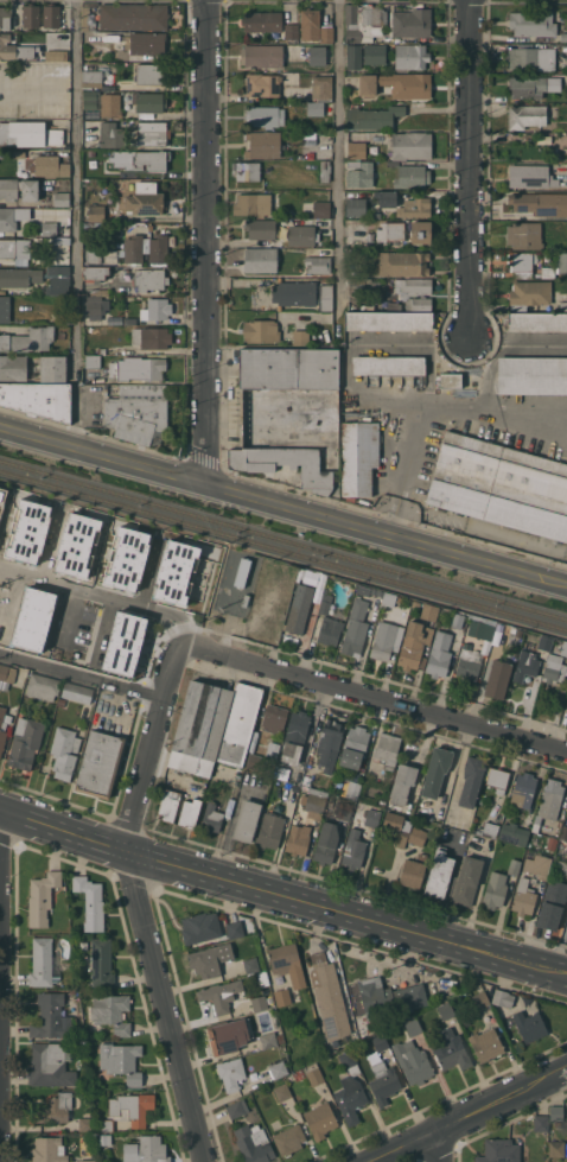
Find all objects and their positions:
building: (31, 15)
building: (51, 15)
building: (133, 15)
building: (5, 17)
building: (566, 19)
building: (363, 20)
building: (262, 21)
building: (412, 23)
building: (533, 23)
building: (310, 24)
building: (291, 31)
building: (326, 33)
building: (563, 37)
building: (147, 43)
building: (13, 47)
building: (374, 53)
building: (55, 55)
building: (261, 55)
building: (317, 55)
building: (353, 56)
building: (410, 56)
building: (529, 57)
building: (151, 74)
building: (91, 78)
building: (261, 84)
building: (397, 84)
building: (108, 87)
building: (321, 87)
building: (527, 87)
building: (91, 99)
building: (148, 101)
building: (110, 106)
building: (313, 107)
building: (525, 115)
building: (265, 116)
building: (372, 116)
building: (28, 133)
building: (152, 133)
building: (112, 134)
road: (337, 138)
building: (262, 144)
building: (410, 145)
building: (356, 150)
building: (91, 152)
building: (18, 153)
building: (140, 159)
building: (51, 166)
building: (246, 170)
road: (471, 170)
building: (325, 171)
building: (359, 173)
building: (412, 176)
building: (528, 176)
building: (8, 190)
building: (62, 198)
building: (386, 198)
building: (251, 203)
building: (540, 203)
building: (355, 207)
building: (415, 207)
building: (130, 208)
building: (321, 209)
building: (12, 218)
road: (75, 224)
building: (49, 228)
building: (261, 228)
building: (390, 231)
building: (420, 231)
building: (301, 235)
building: (524, 235)
building: (370, 236)
road: (208, 245)
building: (7, 248)
building: (158, 248)
building: (133, 250)
building: (325, 252)
building: (93, 256)
building: (260, 259)
building: (521, 260)
building: (318, 263)
building: (401, 263)
building: (555, 266)
building: (96, 272)
building: (19, 275)
building: (149, 279)
building: (58, 280)
building: (414, 284)
building: (2, 292)
building: (100, 292)
building: (293, 293)
building: (529, 293)
building: (324, 297)
building: (419, 303)
building: (95, 305)
building: (563, 305)
building: (5, 309)
building: (157, 309)
building: (130, 320)
building: (389, 320)
building: (537, 322)
building: (261, 330)
building: (151, 337)
building: (300, 337)
building: (27, 339)
building: (93, 361)
building: (388, 364)
building: (13, 367)
building: (52, 368)
building: (138, 368)
building: (288, 368)
building: (531, 374)
building: (450, 380)
building: (38, 399)
road: (432, 408)
building: (136, 412)
building: (291, 433)
building: (358, 456)
road: (102, 457)
building: (501, 484)
building: (4, 503)
road: (8, 527)
building: (32, 533)
road: (386, 536)
railway: (283, 540)
road: (57, 542)
building: (82, 546)
railway: (283, 551)
road: (107, 555)
building: (135, 560)
road: (158, 570)
building: (181, 574)
building: (311, 578)
road: (78, 588)
building: (391, 598)
road: (134, 599)
parking lot: (4, 601)
building: (325, 603)
building: (415, 603)
road: (15, 608)
building: (299, 608)
building: (428, 611)
building: (39, 618)
building: (458, 620)
road: (64, 621)
road: (189, 621)
road: (172, 624)
building: (486, 627)
building: (355, 628)
building: (83, 630)
building: (330, 630)
road: (107, 631)
building: (383, 640)
building: (128, 642)
building: (412, 647)
road: (155, 648)
building: (563, 648)
building: (439, 654)
building: (467, 662)
building: (525, 665)
building: (554, 668)
road: (83, 672)
building: (6, 675)
building: (497, 678)
building: (43, 686)
building: (77, 692)
road: (375, 698)
building: (566, 715)
building: (203, 718)
building: (274, 718)
building: (240, 724)
building: (2, 725)
building: (25, 742)
building: (292, 743)
building: (329, 743)
road: (154, 747)
building: (355, 748)
building: (387, 749)
building: (64, 751)
building: (272, 753)
building: (191, 762)
building: (255, 762)
building: (98, 763)
building: (435, 770)
building: (497, 779)
building: (306, 780)
building: (471, 780)
building: (401, 785)
building: (350, 788)
building: (522, 788)
building: (550, 798)
building: (314, 802)
building: (168, 805)
building: (344, 809)
building: (189, 812)
building: (211, 818)
building: (372, 818)
building: (246, 820)
building: (396, 826)
building: (269, 830)
building: (488, 830)
building: (514, 833)
building: (416, 836)
building: (298, 839)
building: (562, 840)
building: (326, 843)
building: (552, 843)
building: (353, 850)
building: (537, 865)
building: (514, 866)
building: (559, 866)
building: (439, 872)
building: (412, 874)
building: (467, 881)
building: (495, 890)
road: (282, 894)
building: (523, 896)
building: (42, 897)
building: (90, 902)
building: (552, 904)
building: (199, 927)
building: (234, 928)
building: (209, 959)
building: (43, 963)
building: (101, 963)
building: (287, 963)
building: (250, 965)
building: (262, 978)
building: (217, 996)
building: (389, 996)
building: (281, 997)
building: (330, 997)
building: (502, 997)
building: (480, 999)
building: (259, 1003)
road: (164, 1005)
building: (446, 1010)
building: (112, 1011)
building: (51, 1016)
building: (529, 1026)
building: (413, 1027)
building: (228, 1035)
building: (268, 1040)
building: (380, 1042)
building: (486, 1044)
building: (452, 1052)
building: (120, 1061)
building: (349, 1061)
building: (413, 1062)
building: (50, 1065)
building: (278, 1068)
building: (230, 1073)
building: (314, 1075)
building: (383, 1081)
building: (281, 1091)
building: (350, 1098)
building: (237, 1107)
building: (55, 1109)
building: (127, 1110)
building: (555, 1112)
road: (470, 1117)
building: (320, 1119)
building: (541, 1122)
building: (87, 1123)
building: (104, 1138)
building: (288, 1138)
building: (254, 1143)
road: (439, 1147)
building: (556, 1148)
building: (566, 1149)
building: (49, 1150)
building: (146, 1150)
building: (499, 1150)
building: (88, 1160)

